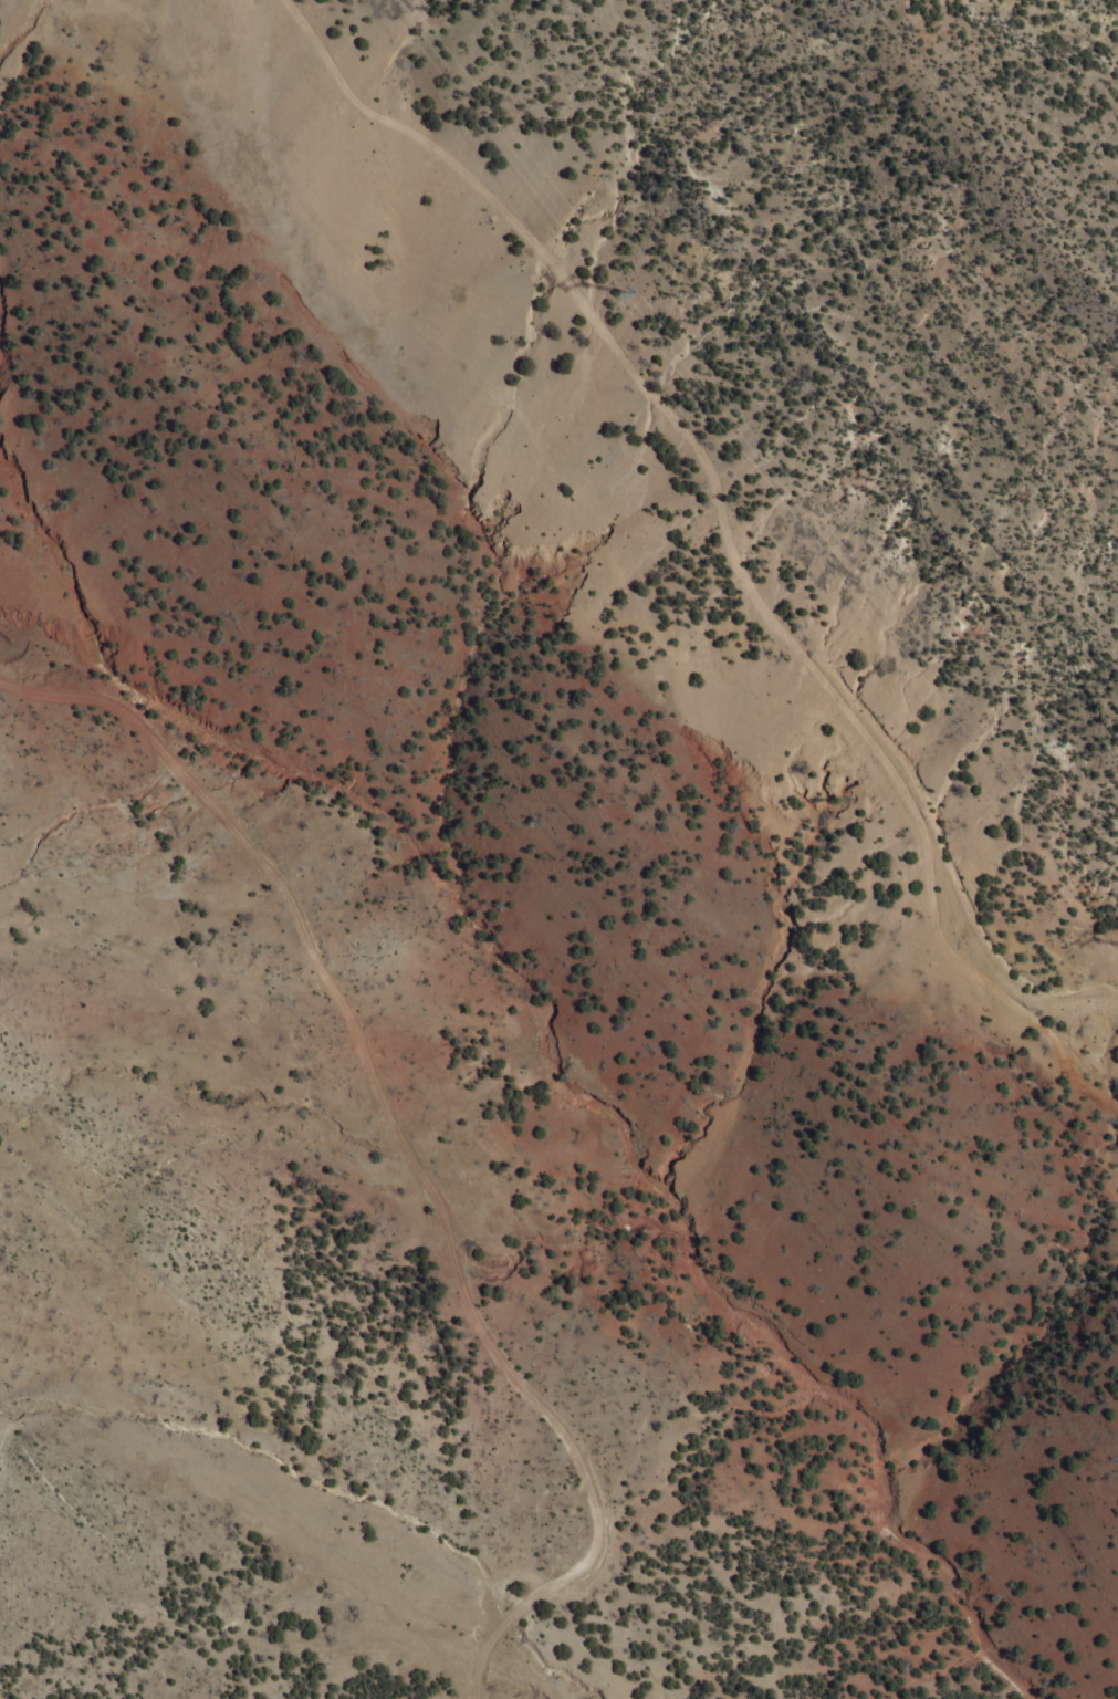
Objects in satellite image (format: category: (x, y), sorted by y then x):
power tower: (628, 291)
road: (721, 518)

